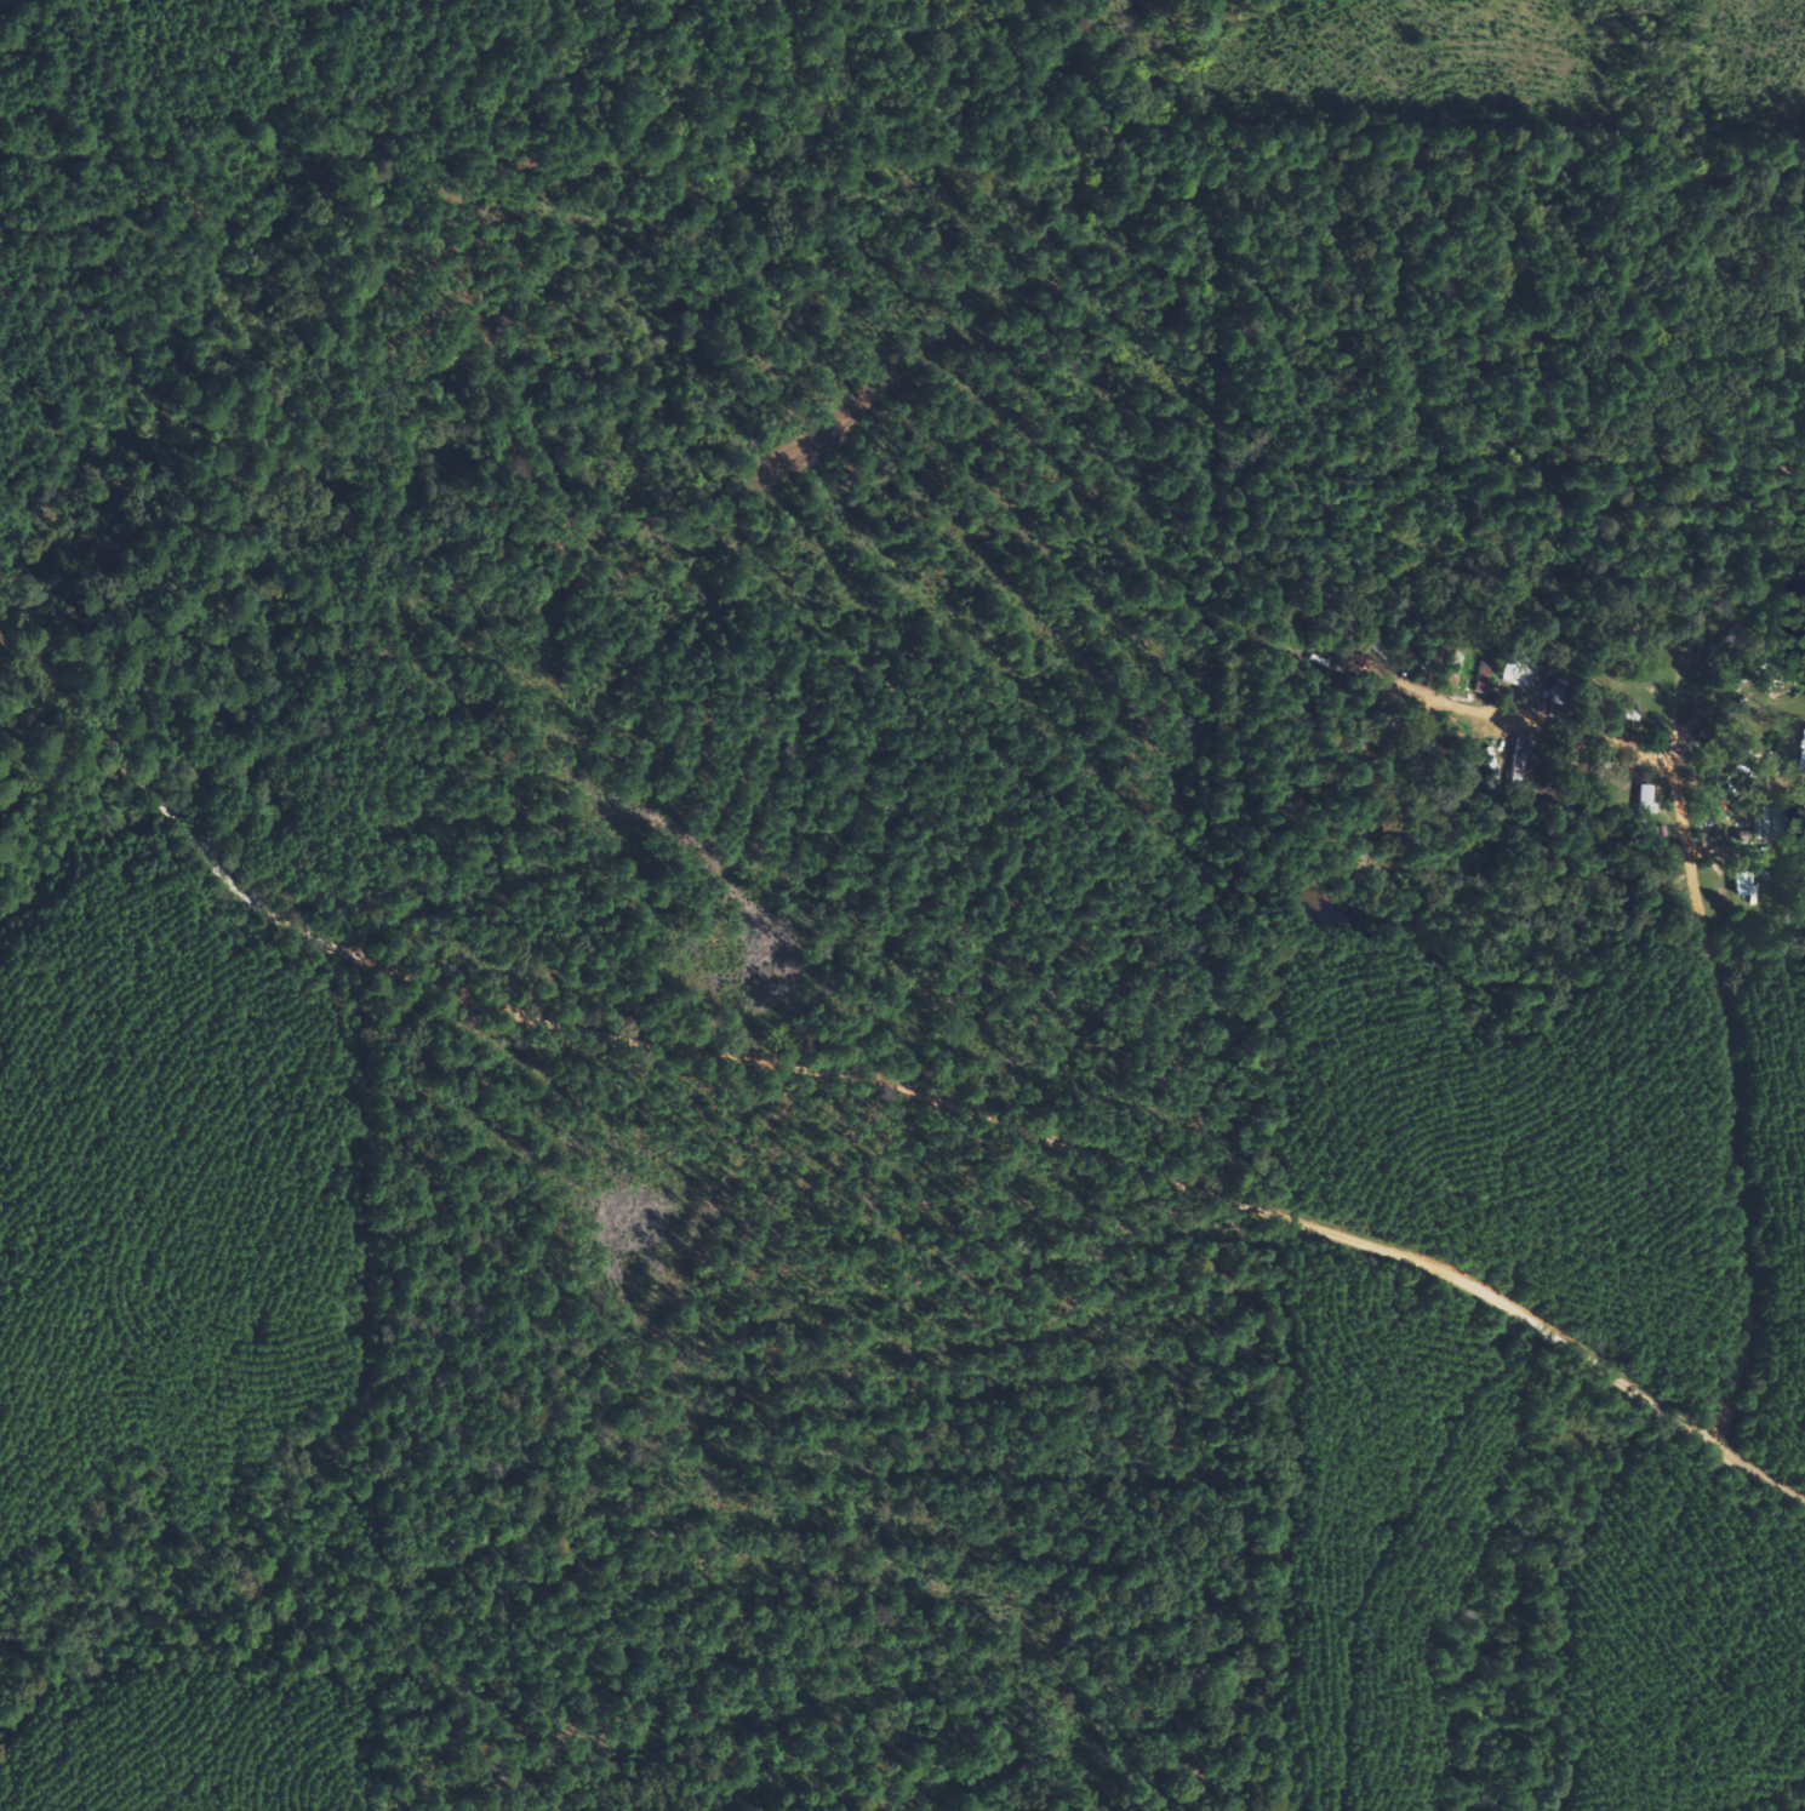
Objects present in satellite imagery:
building: (1516, 670)
road: (1470, 679)
road: (1778, 689)
building: (1770, 823)
building: (1741, 884)
road: (859, 1081)
road: (1770, 1369)

